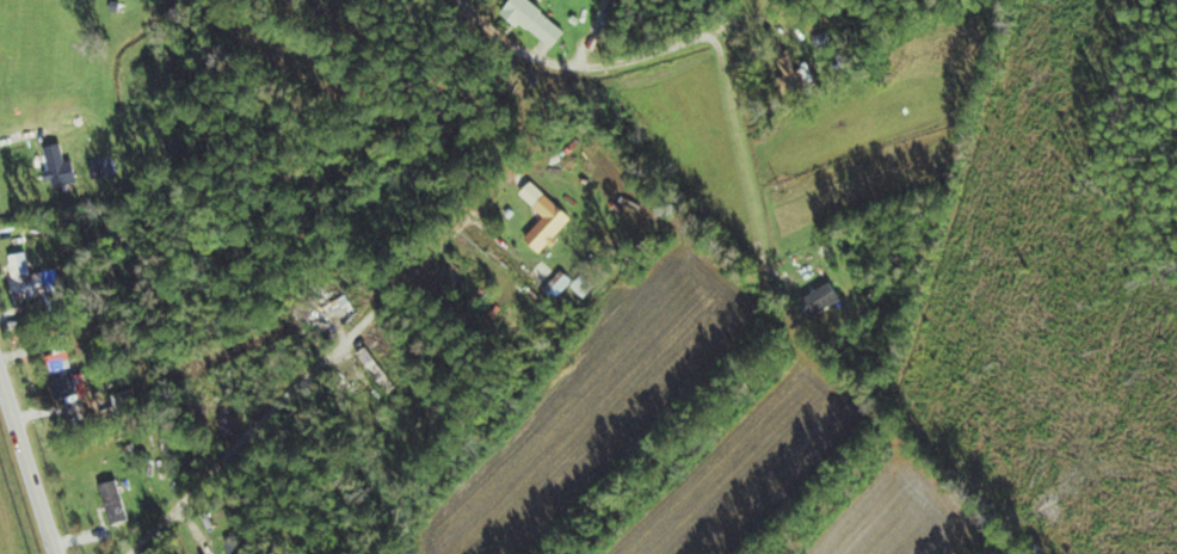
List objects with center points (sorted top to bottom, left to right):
building: (541, 21)
road: (698, 38)
building: (794, 75)
building: (63, 166)
building: (553, 222)
building: (36, 279)
building: (827, 298)
road: (325, 364)
building: (69, 376)
road: (26, 467)
building: (118, 503)

